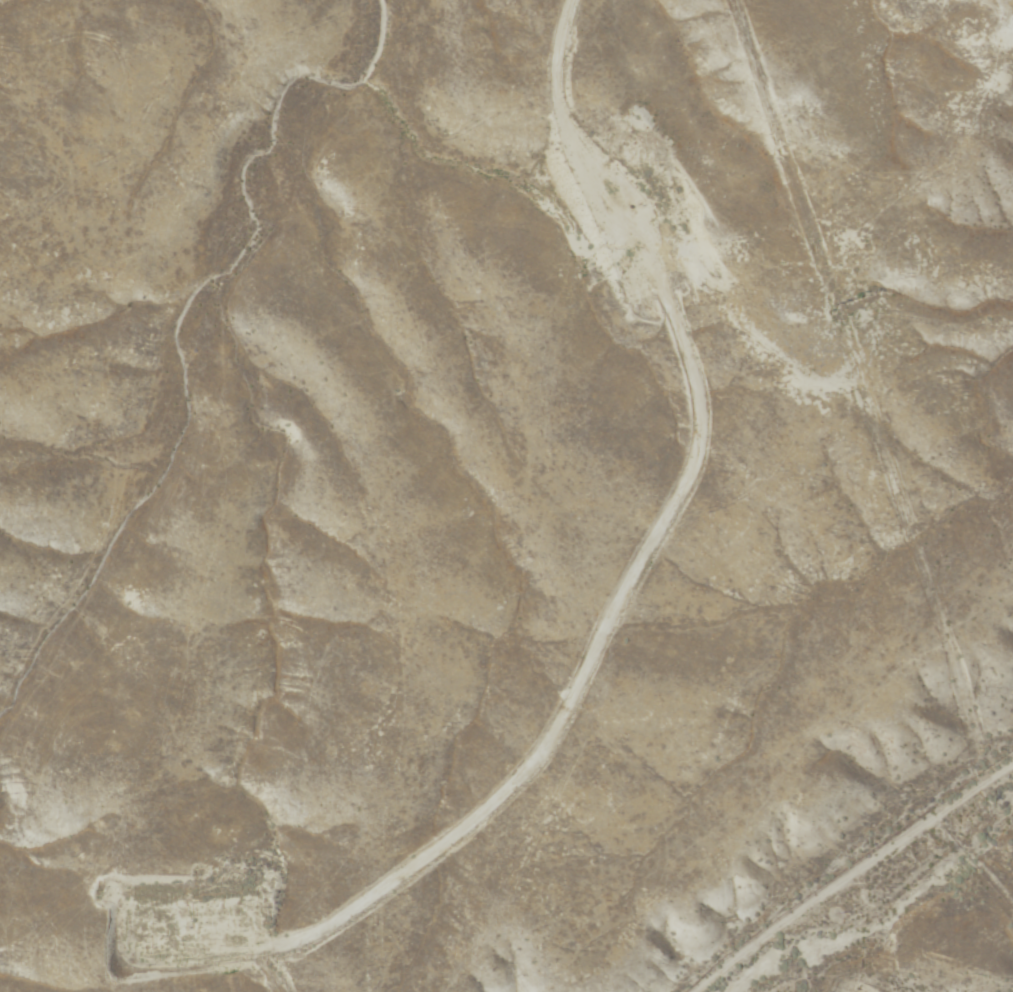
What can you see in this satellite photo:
road: (832, 873)

